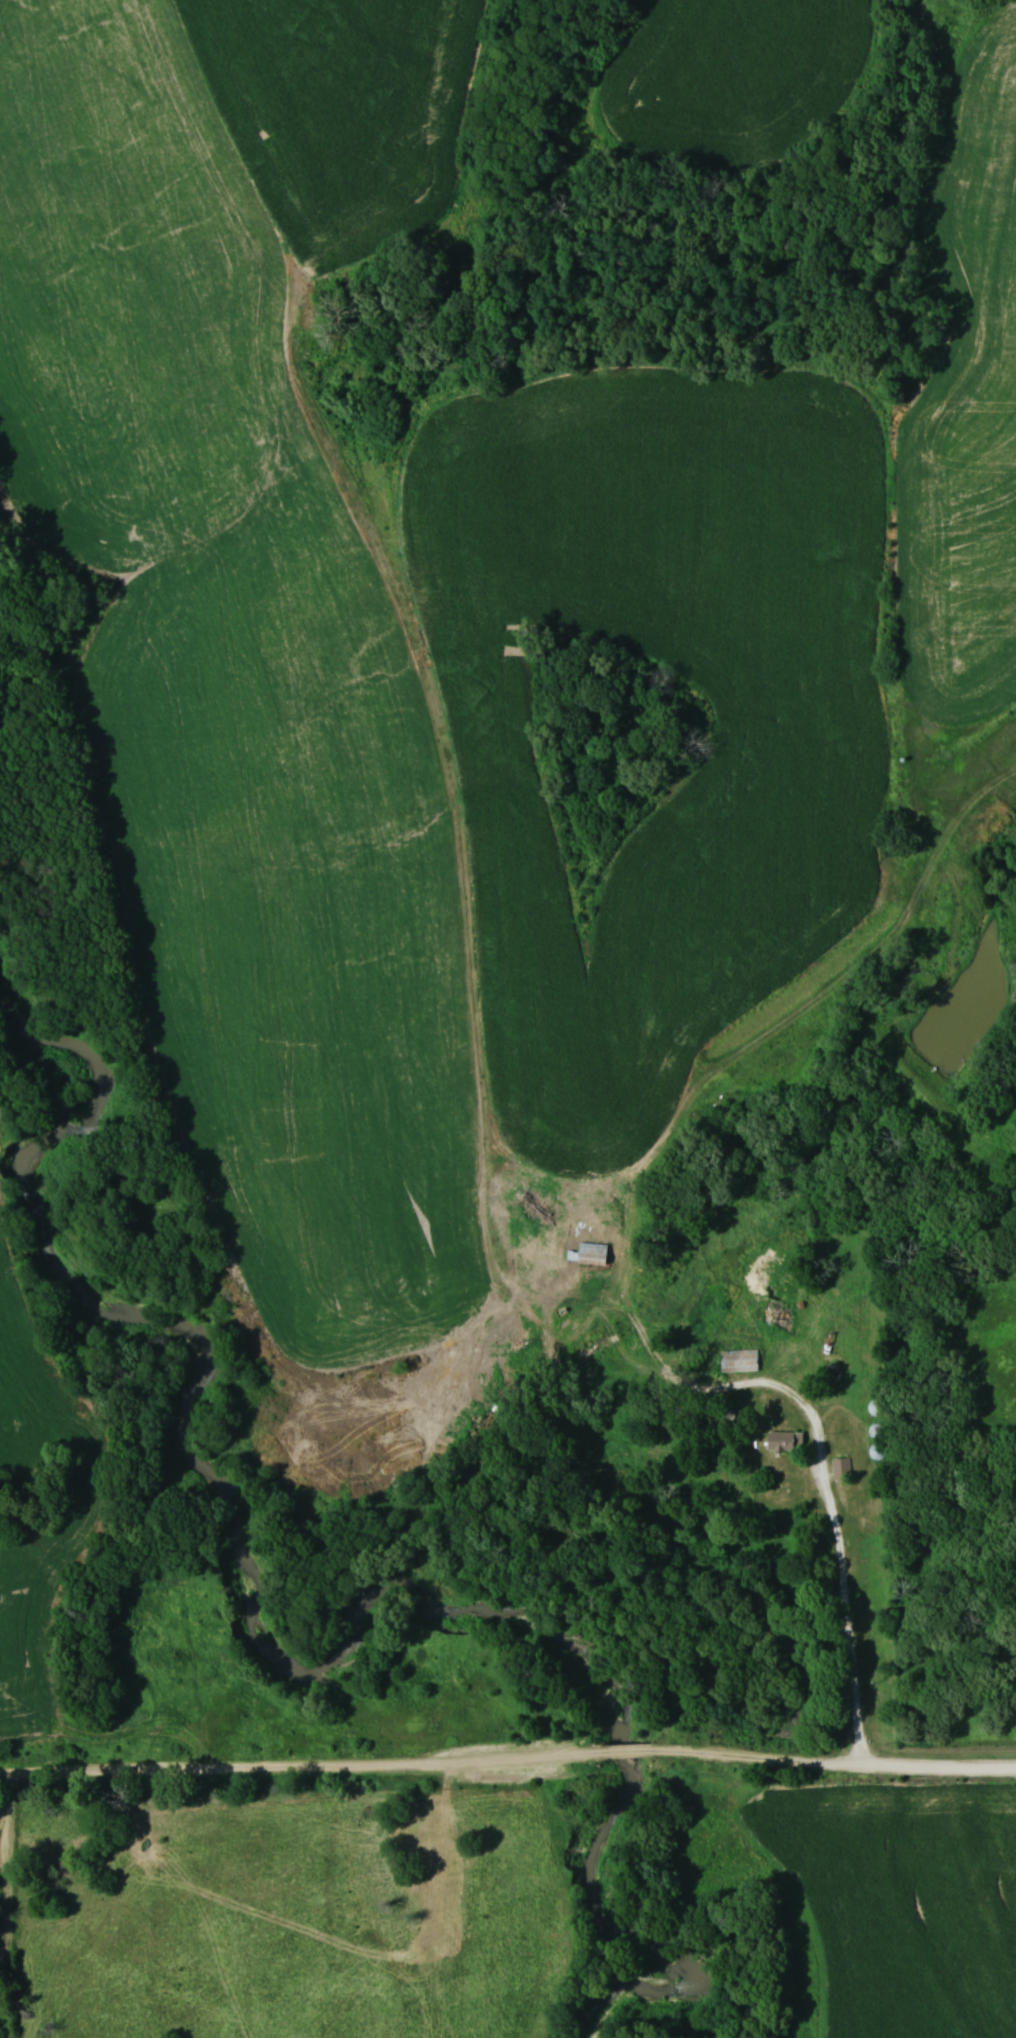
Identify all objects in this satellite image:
building: (583, 1252)
building: (775, 1322)
building: (737, 1358)
building: (782, 1440)
building: (838, 1467)
road: (838, 1542)
river: (308, 1661)
road: (623, 1750)
road: (834, 1764)
road: (297, 1773)

